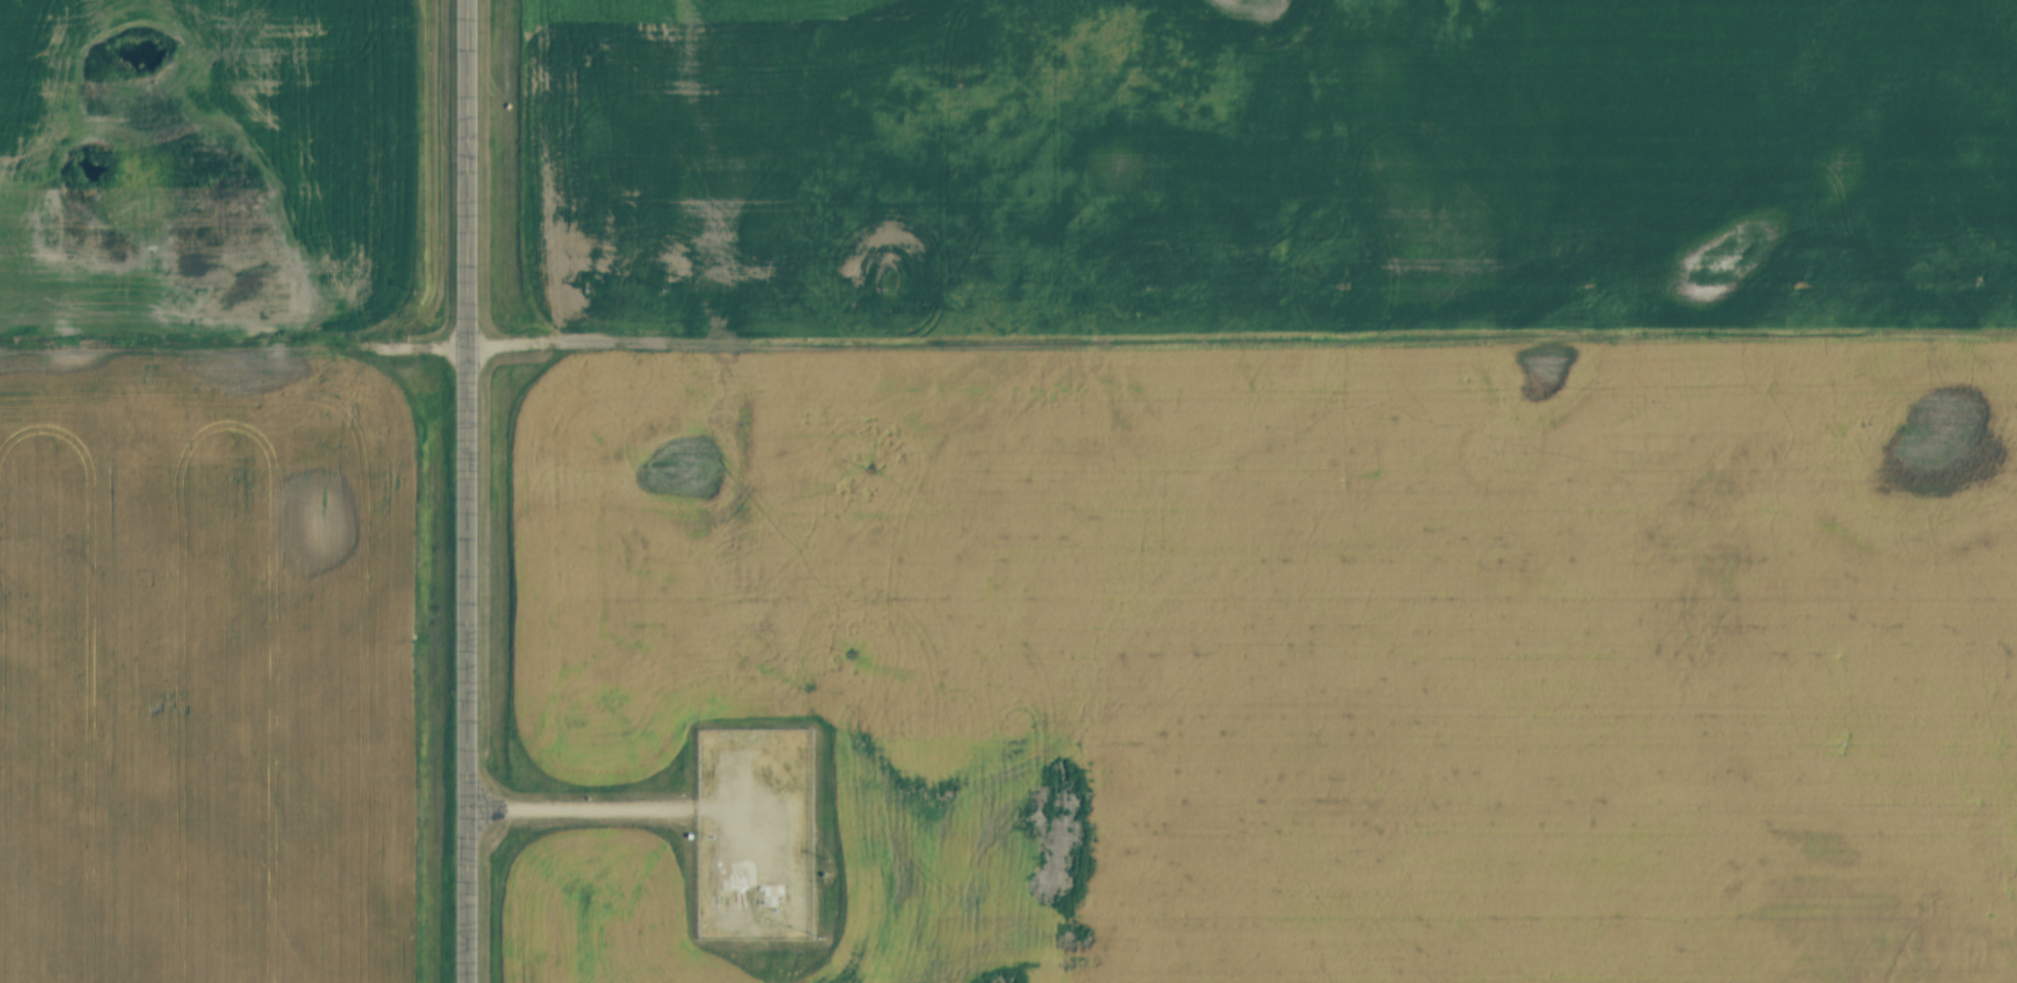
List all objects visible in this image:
road: (1007, 346)
road: (466, 491)
road: (580, 810)

